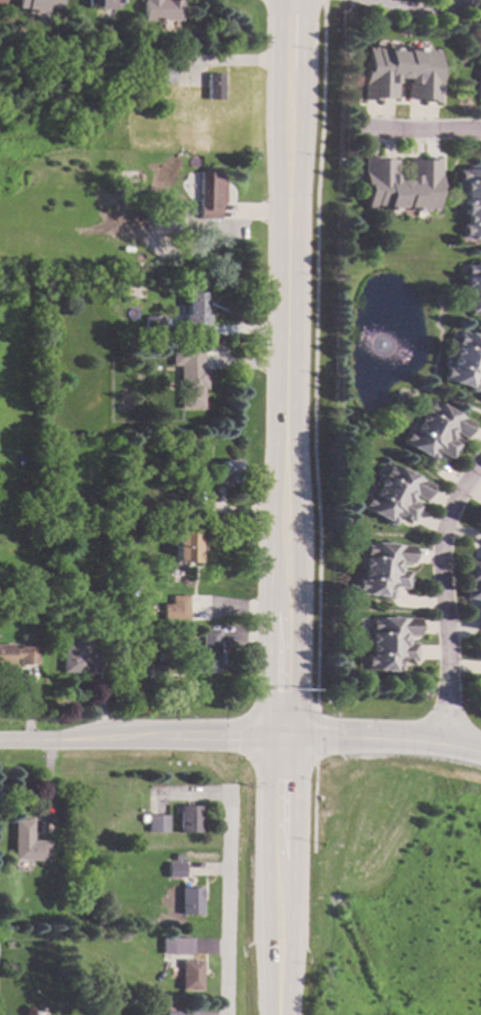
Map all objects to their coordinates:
building: (1, 4)
building: (101, 4)
building: (39, 5)
building: (161, 10)
road: (422, 13)
building: (402, 72)
building: (164, 74)
building: (215, 87)
building: (479, 92)
road: (428, 128)
building: (402, 184)
building: (211, 195)
building: (472, 200)
building: (471, 289)
building: (137, 297)
building: (195, 310)
building: (153, 325)
building: (138, 352)
building: (465, 361)
building: (189, 375)
building: (402, 395)
building: (436, 431)
building: (181, 464)
building: (230, 473)
building: (193, 484)
building: (396, 494)
building: (107, 507)
road: (289, 507)
building: (184, 521)
building: (224, 526)
building: (429, 543)
building: (185, 548)
building: (59, 561)
building: (384, 568)
building: (58, 579)
building: (474, 581)
road: (442, 599)
building: (177, 608)
building: (480, 625)
building: (392, 642)
building: (209, 653)
building: (17, 655)
building: (81, 659)
building: (156, 673)
traffic signals: (285, 737)
road: (142, 739)
road: (383, 742)
building: (190, 819)
building: (158, 824)
building: (29, 844)
building: (179, 857)
building: (176, 870)
building: (192, 901)
road: (229, 905)
building: (177, 946)
building: (191, 975)
building: (157, 1009)
building: (175, 1013)

